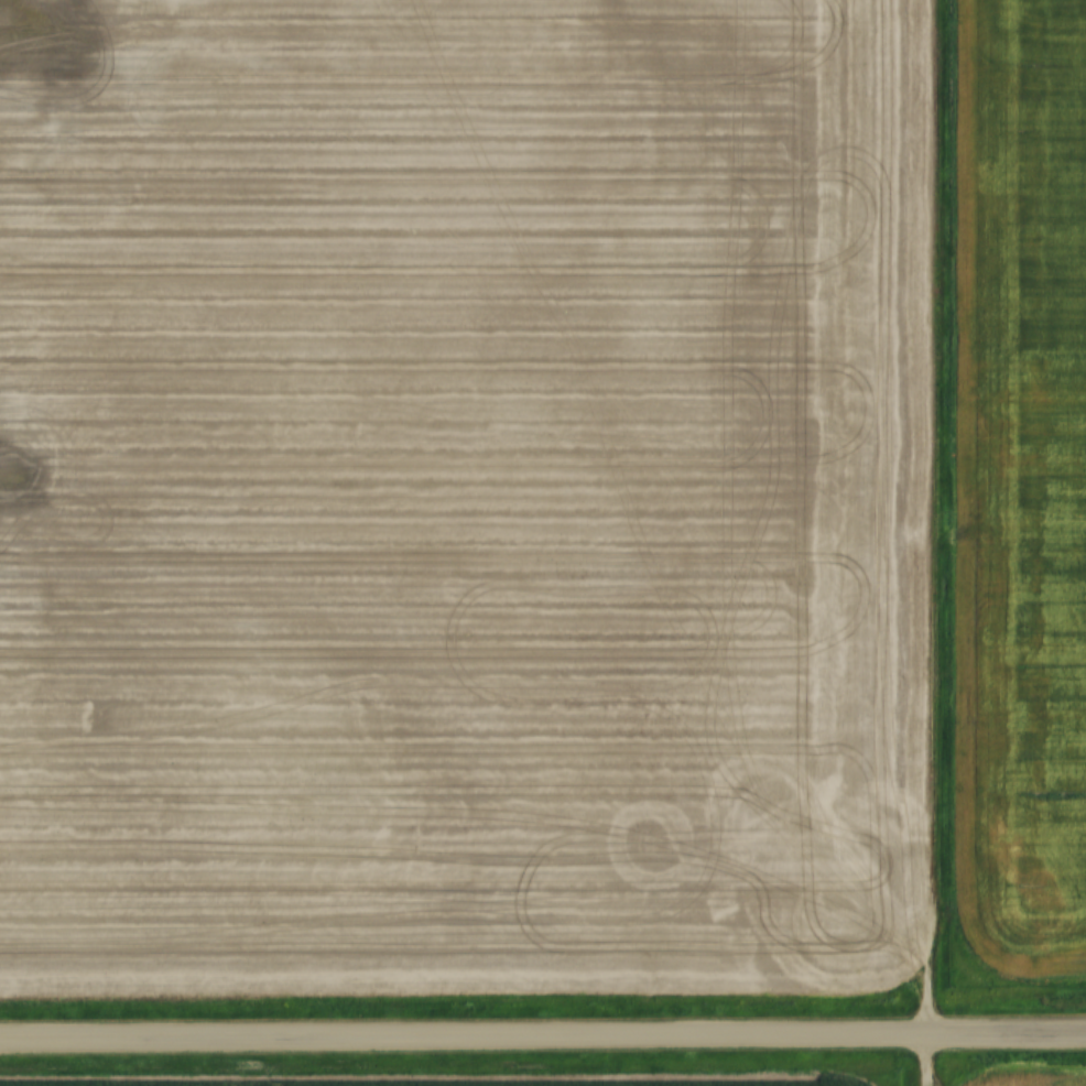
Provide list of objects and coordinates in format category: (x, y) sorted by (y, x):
road: (542, 1038)
road: (924, 1061)

